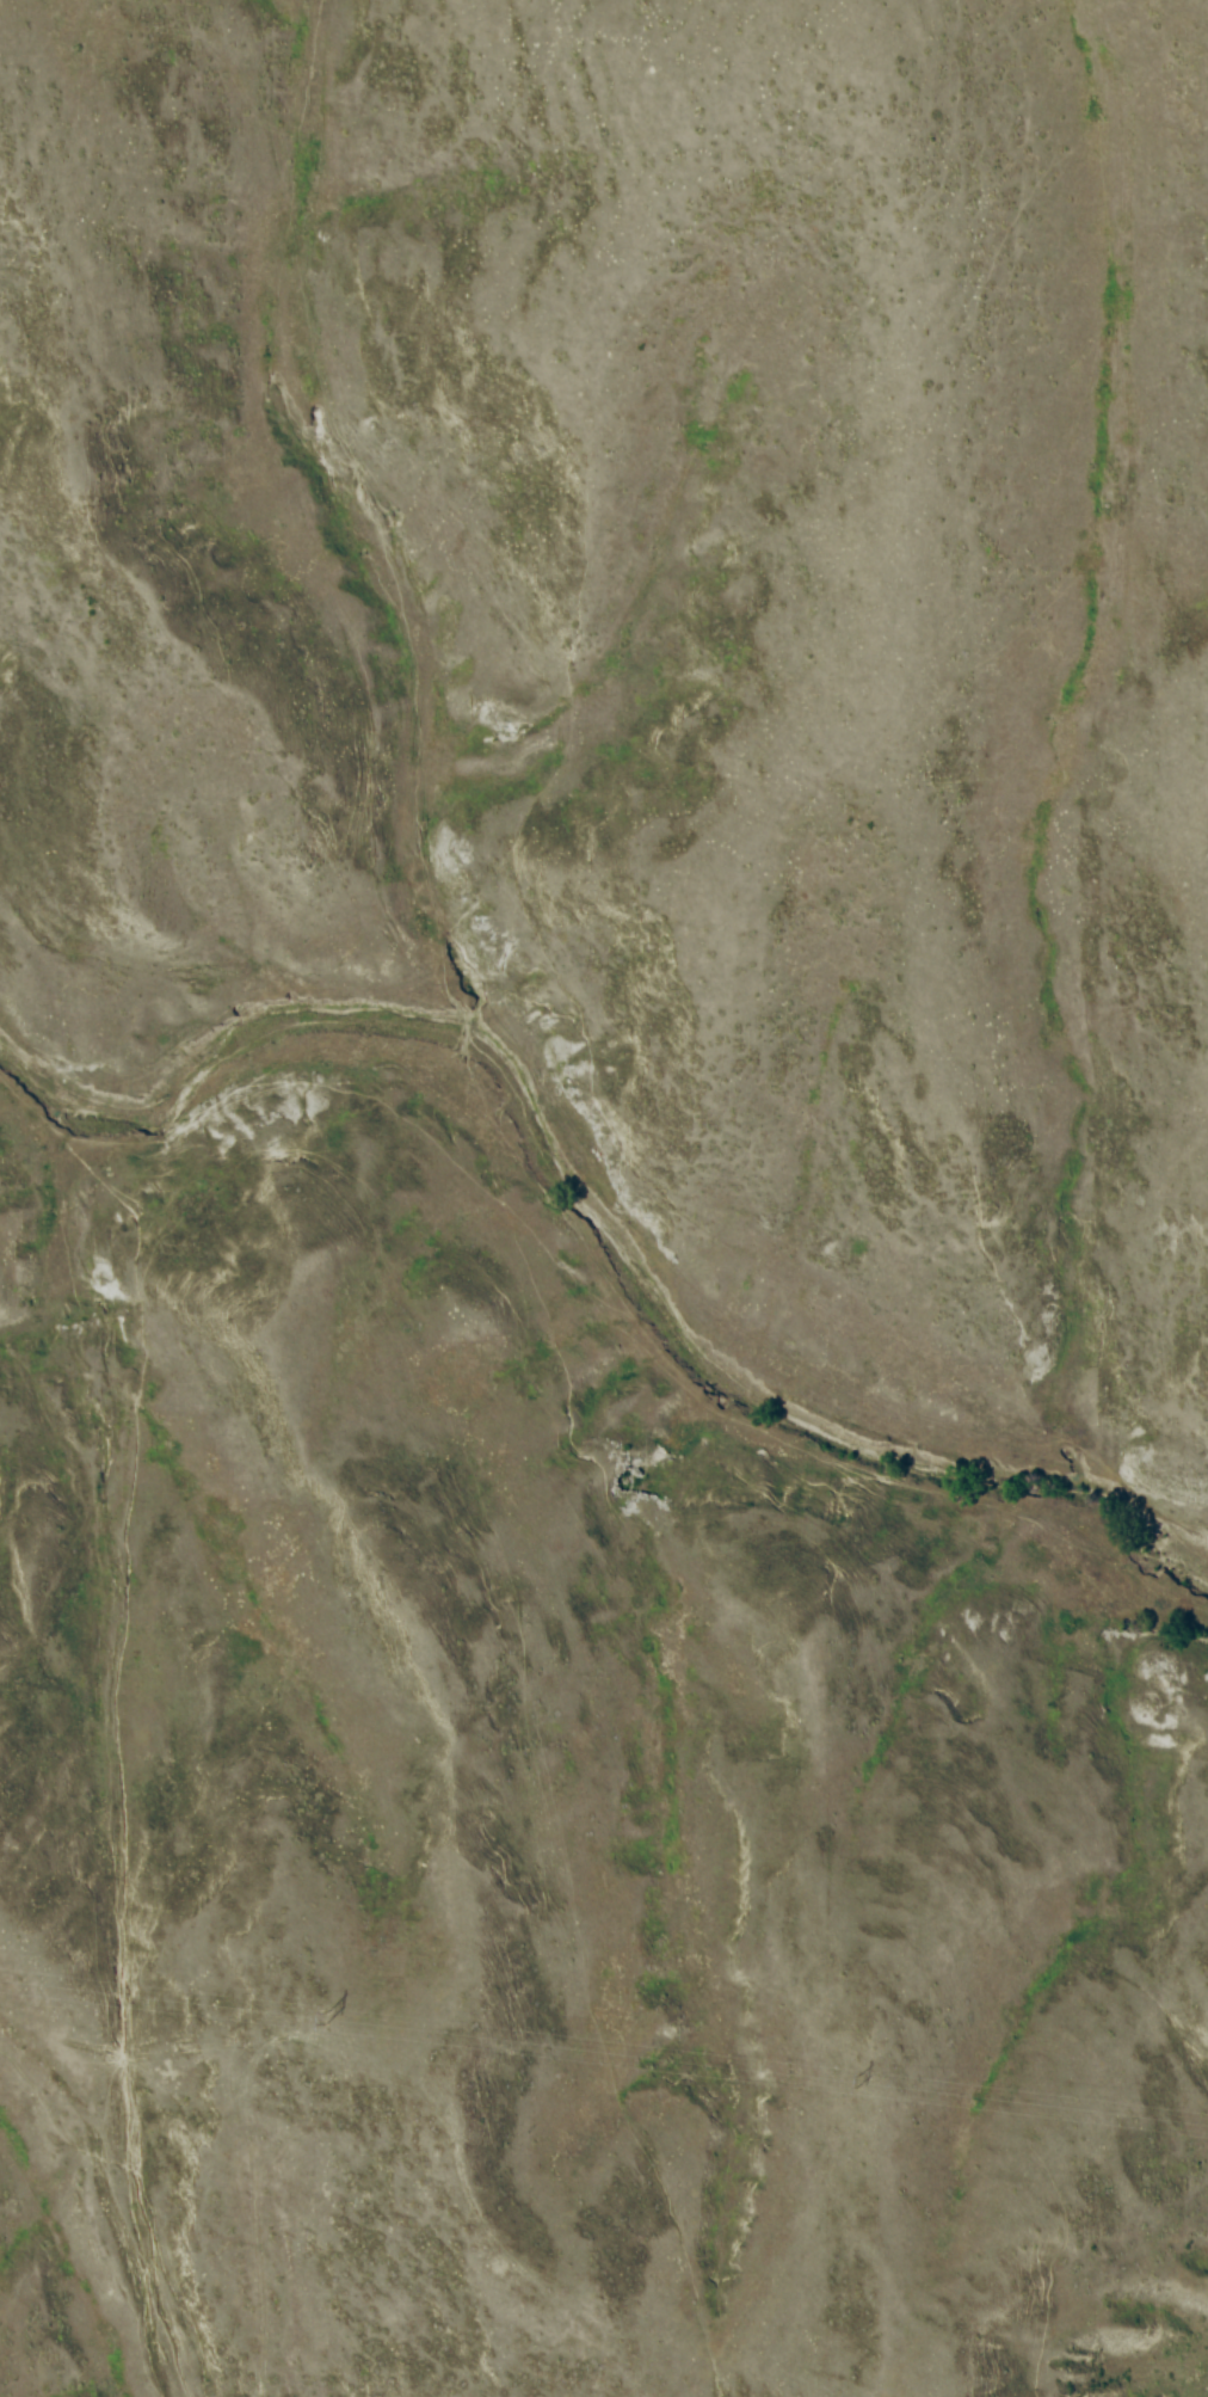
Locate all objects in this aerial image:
power tower: (328, 2018)
power tower: (857, 2082)

